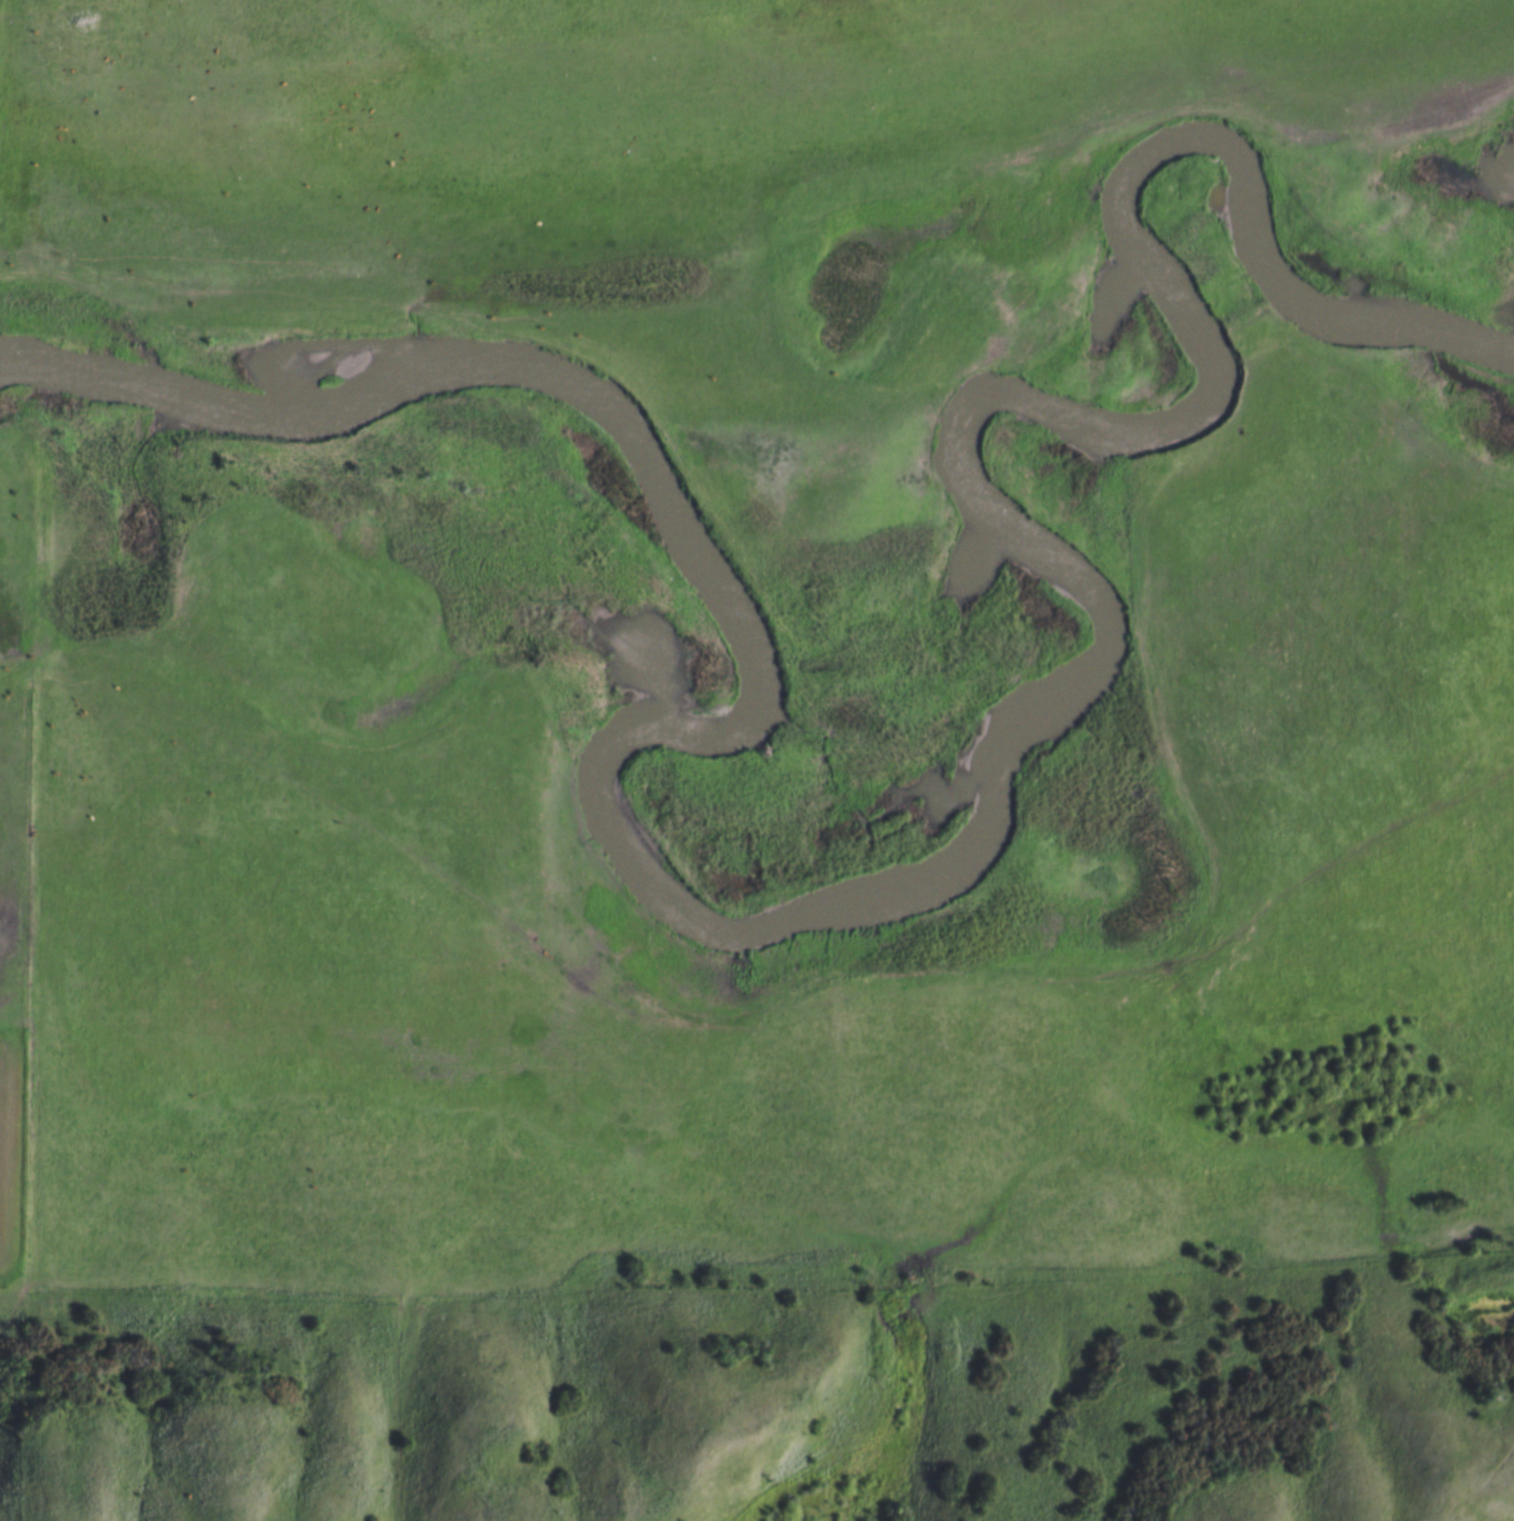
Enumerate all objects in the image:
river: (922, 836)
road: (3, 1292)

